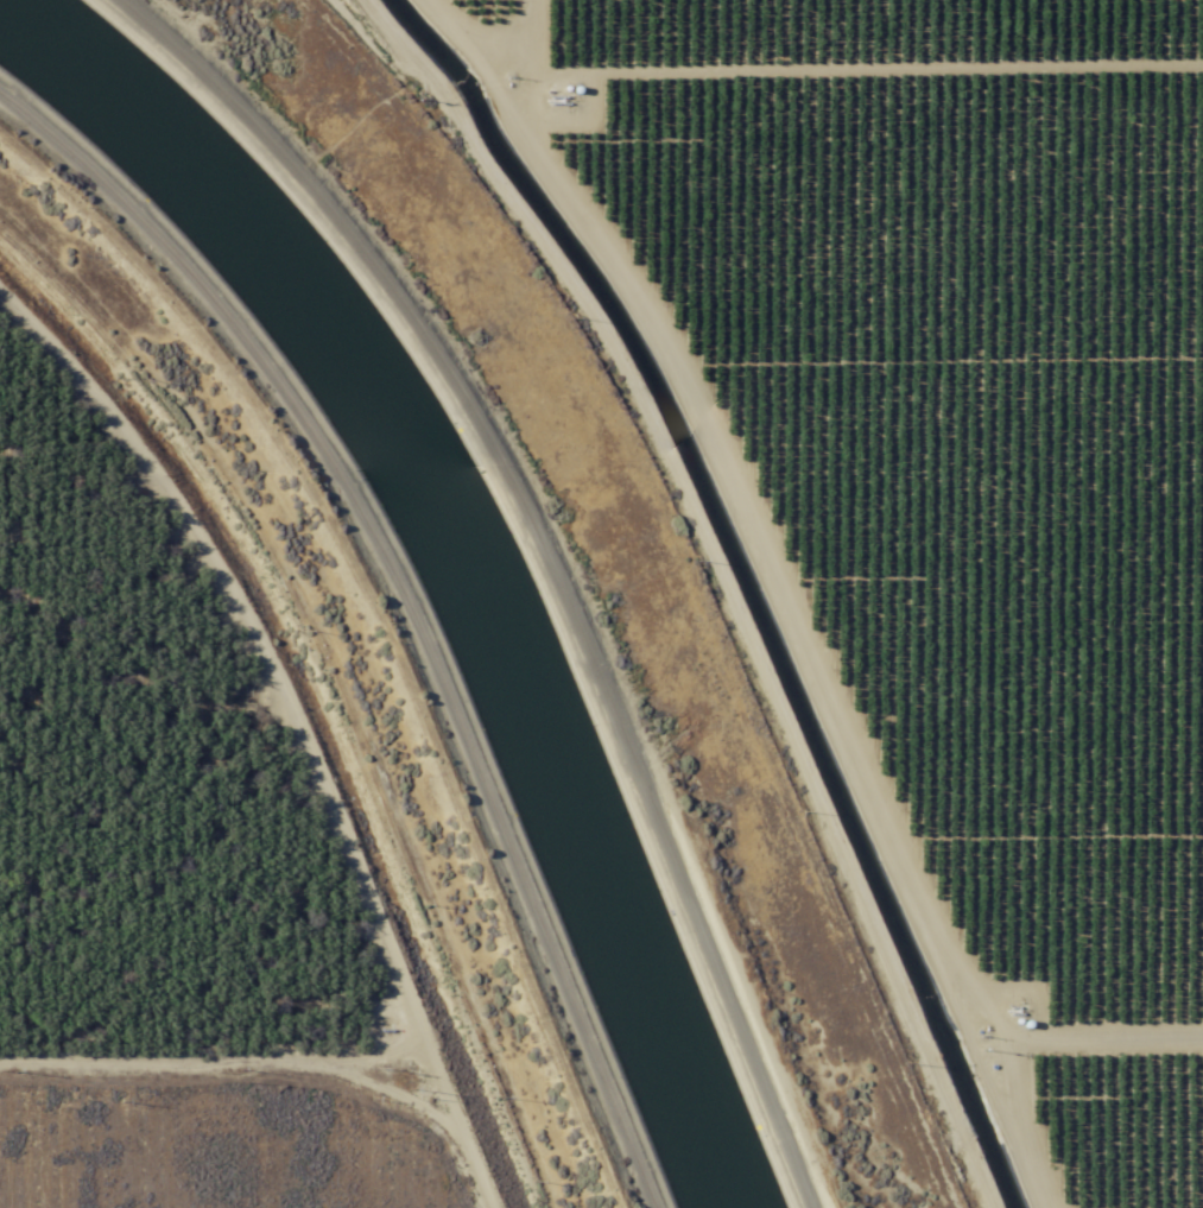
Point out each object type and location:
road: (406, 603)

